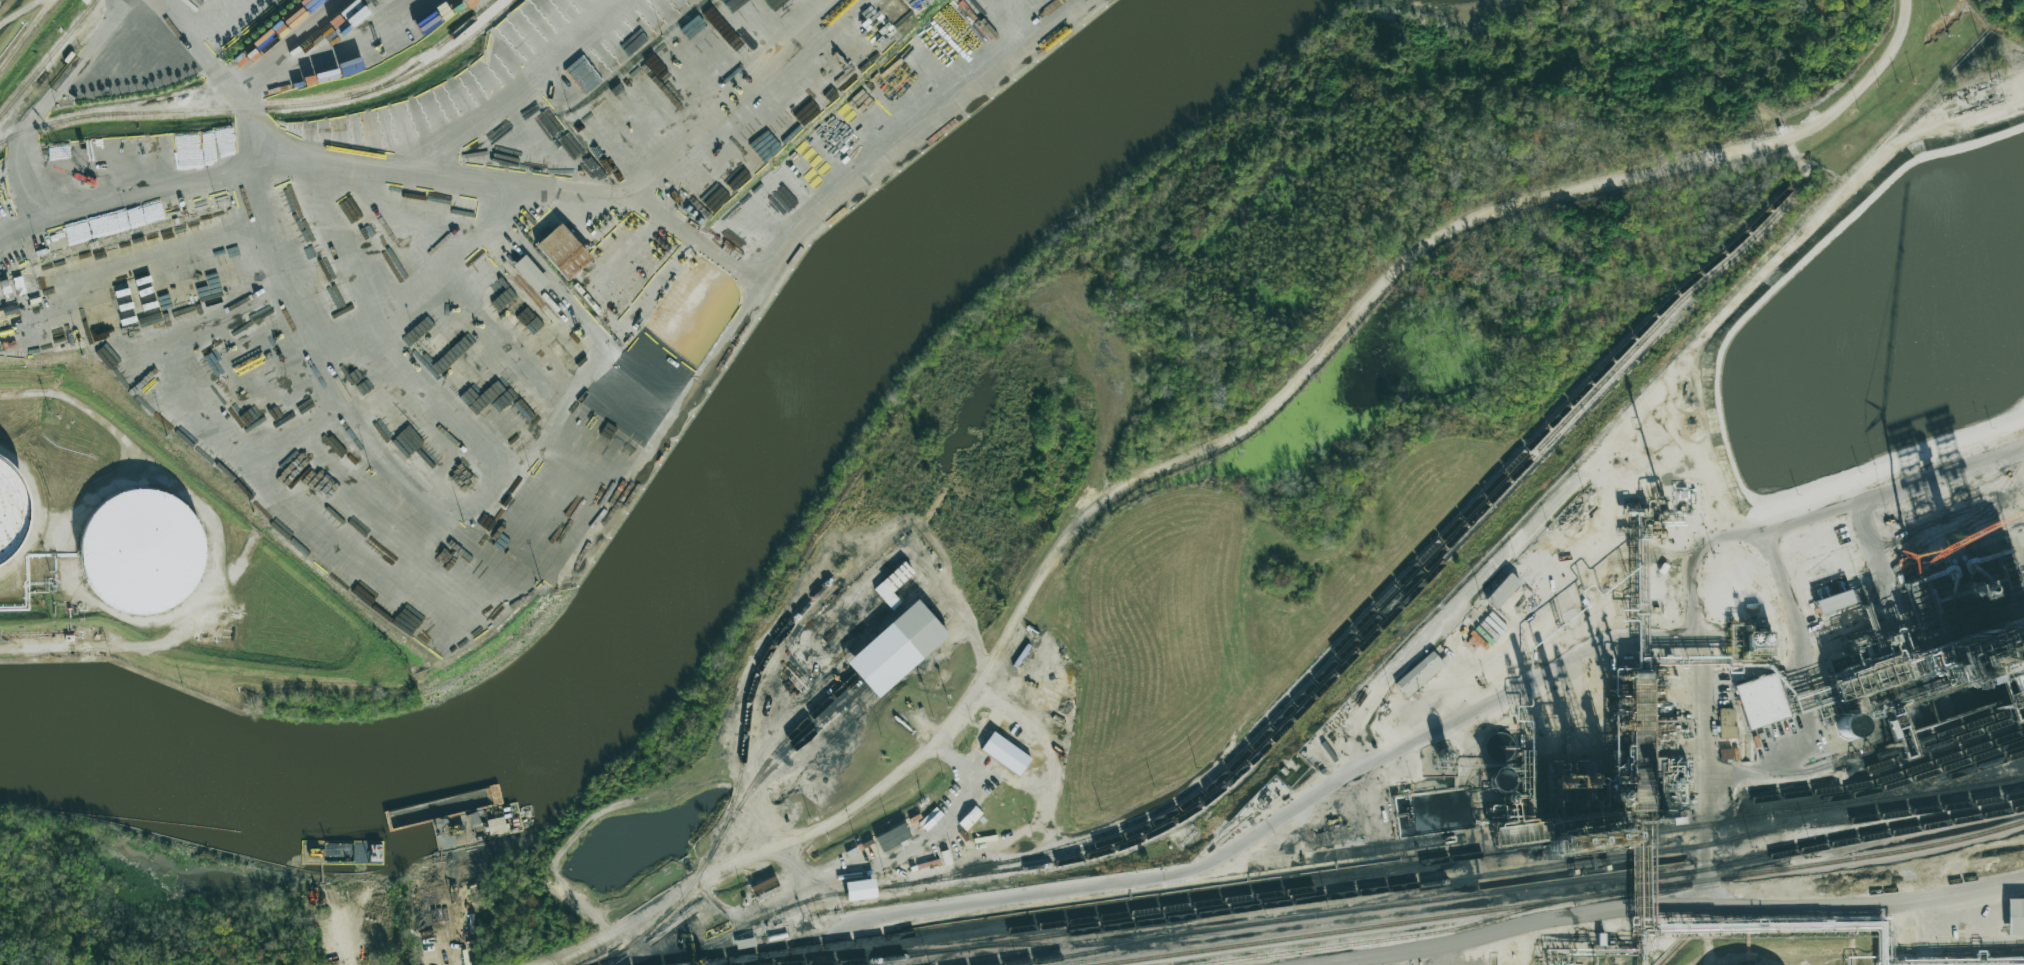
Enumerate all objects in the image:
building: (903, 12)
building: (955, 36)
railway: (427, 54)
railway: (47, 57)
railway: (173, 96)
railway: (322, 102)
road: (46, 105)
road: (315, 148)
road: (118, 204)
road: (467, 241)
road: (1826, 248)
building: (563, 251)
building: (530, 273)
river: (854, 310)
road: (232, 377)
road: (1653, 395)
road: (1105, 443)
road: (1210, 448)
road: (159, 470)
road: (1852, 480)
building: (13, 509)
storage tank: (13, 509)
road: (1764, 525)
storage tank: (541, 527)
storage tank: (545, 531)
storage tank: (551, 534)
storage tank: (560, 541)
storage tank: (566, 544)
building: (141, 553)
storage tank: (141, 553)
road: (1696, 559)
railway: (1422, 568)
building: (892, 584)
building: (1502, 590)
railway: (1386, 593)
building: (1834, 601)
road: (1787, 602)
road: (959, 606)
road: (99, 646)
building: (896, 648)
building: (1419, 673)
building: (1761, 701)
railway: (840, 706)
railway: (809, 716)
building: (1726, 722)
railway: (1934, 736)
railway: (1935, 746)
railway: (1245, 765)
railway: (1981, 765)
road: (1768, 768)
railway: (1885, 778)
railway: (737, 782)
railway: (1885, 786)
river: (283, 792)
road: (1048, 800)
road: (760, 807)
railway: (1876, 816)
road: (1263, 828)
road: (925, 829)
building: (893, 837)
railway: (1293, 880)
railway: (1400, 886)
railway: (1517, 888)
building: (860, 889)
railway: (1561, 899)
road: (1659, 907)
road: (755, 911)
railway: (1119, 915)
building: (2015, 916)
road: (348, 936)
railway: (1388, 938)
railway: (1063, 945)
railway: (901, 951)
road: (1343, 962)

